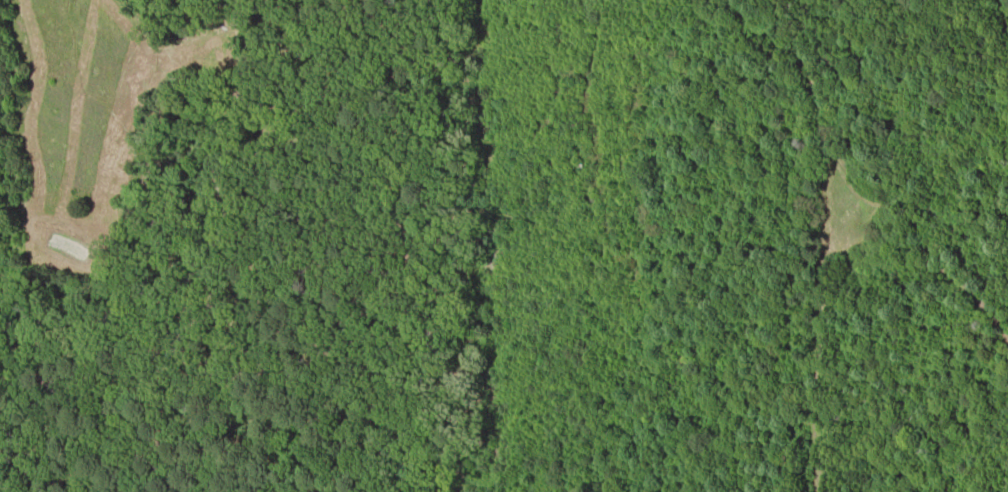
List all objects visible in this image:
road: (807, 243)

